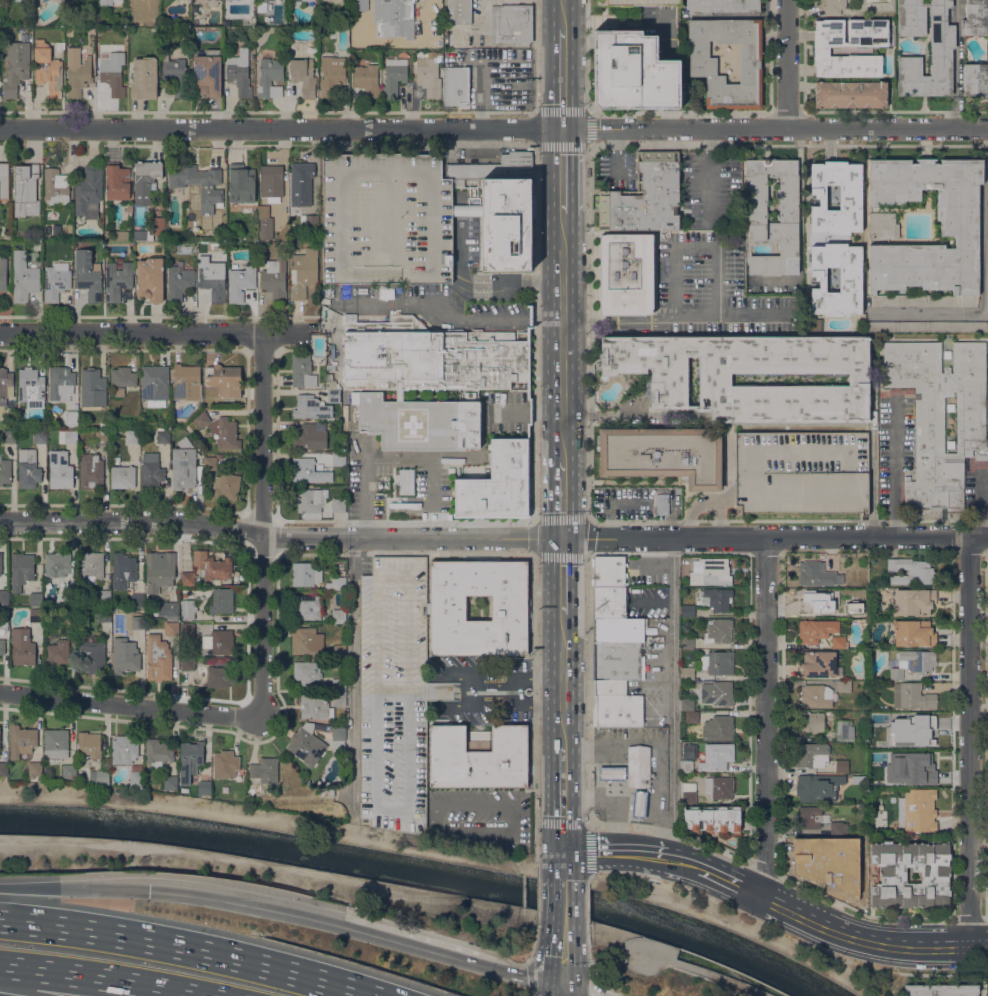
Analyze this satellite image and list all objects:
building: (11, 0)
building: (244, 1)
building: (110, 2)
building: (212, 2)
building: (296, 2)
building: (638, 2)
building: (360, 5)
building: (722, 6)
building: (834, 6)
building: (459, 12)
building: (196, 14)
road: (563, 14)
building: (394, 18)
building: (975, 18)
building: (185, 22)
building: (511, 23)
building: (942, 42)
building: (60, 47)
building: (820, 50)
road: (535, 55)
road: (587, 55)
road: (956, 62)
road: (787, 63)
building: (702, 66)
building: (16, 67)
building: (48, 69)
building: (77, 72)
building: (239, 72)
building: (208, 73)
building: (635, 73)
building: (303, 75)
building: (332, 75)
building: (112, 76)
building: (394, 76)
building: (174, 77)
building: (270, 77)
building: (428, 77)
building: (144, 78)
road: (563, 78)
building: (366, 79)
building: (975, 79)
building: (455, 85)
building: (850, 94)
road: (589, 111)
road: (775, 126)
road: (281, 127)
traffic signals: (563, 127)
building: (493, 168)
road: (562, 169)
parking lot: (616, 170)
road: (709, 172)
building: (145, 180)
building: (4, 181)
building: (117, 181)
building: (271, 181)
building: (55, 183)
building: (198, 183)
building: (241, 183)
building: (301, 183)
building: (25, 190)
parking lot: (710, 191)
building: (88, 192)
building: (850, 196)
building: (647, 199)
building: (129, 207)
building: (755, 213)
building: (52, 214)
building: (386, 219)
parking lot: (386, 219)
building: (309, 222)
building: (158, 223)
building: (264, 223)
building: (505, 224)
building: (883, 225)
building: (959, 227)
building: (121, 235)
road: (695, 245)
building: (303, 272)
building: (3, 273)
building: (626, 274)
building: (88, 275)
road: (982, 275)
building: (23, 277)
building: (211, 277)
building: (117, 278)
building: (150, 278)
building: (275, 278)
building: (851, 278)
building: (56, 280)
building: (241, 282)
building: (178, 283)
road: (485, 286)
road: (674, 314)
road: (449, 315)
building: (925, 325)
road: (588, 331)
road: (156, 332)
road: (535, 332)
road: (562, 336)
building: (429, 356)
building: (331, 366)
building: (302, 371)
building: (123, 376)
building: (669, 379)
building: (224, 380)
building: (186, 382)
building: (60, 383)
building: (5, 385)
building: (154, 385)
building: (332, 385)
building: (31, 386)
building: (92, 387)
building: (333, 395)
building: (311, 407)
building: (940, 415)
building: (71, 417)
road: (629, 418)
building: (421, 421)
helipad: (408, 427)
road: (800, 427)
building: (220, 430)
building: (101, 435)
building: (163, 435)
building: (9, 436)
building: (40, 436)
building: (70, 436)
building: (132, 436)
building: (310, 436)
building: (113, 441)
building: (664, 453)
road: (383, 457)
building: (116, 459)
building: (339, 459)
building: (209, 463)
building: (184, 464)
building: (28, 468)
road: (872, 468)
building: (60, 469)
building: (5, 470)
building: (89, 470)
building: (151, 470)
road: (727, 470)
building: (308, 471)
building: (802, 471)
building: (122, 476)
building: (405, 480)
building: (497, 483)
building: (226, 486)
road: (562, 498)
building: (308, 499)
building: (339, 504)
road: (705, 504)
building: (662, 510)
building: (677, 513)
road: (788, 518)
road: (589, 519)
road: (406, 520)
road: (259, 522)
road: (280, 536)
road: (775, 536)
traffic signals: (562, 537)
road: (672, 545)
building: (694, 555)
building: (0, 563)
building: (57, 565)
building: (212, 565)
building: (91, 566)
building: (123, 569)
building: (705, 569)
building: (21, 570)
building: (159, 570)
building: (609, 571)
building: (910, 571)
building: (305, 574)
building: (818, 574)
road: (562, 575)
building: (187, 578)
building: (73, 582)
building: (335, 582)
building: (4, 596)
building: (68, 596)
building: (103, 596)
building: (717, 598)
building: (812, 598)
building: (36, 599)
building: (137, 600)
building: (221, 600)
building: (913, 601)
building: (609, 602)
building: (187, 604)
building: (307, 606)
building: (511, 607)
building: (854, 607)
building: (168, 609)
building: (688, 610)
building: (839, 611)
building: (4, 614)
building: (36, 614)
building: (69, 614)
building: (103, 614)
building: (337, 615)
building: (137, 622)
building: (171, 628)
building: (187, 628)
building: (816, 629)
building: (618, 630)
building: (718, 631)
building: (913, 633)
building: (306, 641)
building: (221, 642)
building: (687, 642)
building: (839, 642)
building: (2, 646)
building: (22, 646)
building: (56, 650)
building: (337, 651)
building: (91, 653)
building: (158, 658)
building: (918, 660)
building: (125, 661)
building: (618, 661)
building: (718, 662)
building: (187, 663)
building: (818, 664)
building: (896, 670)
building: (307, 672)
road: (351, 673)
building: (687, 673)
building: (220, 675)
road: (503, 676)
road: (562, 679)
building: (337, 684)
building: (844, 685)
road: (587, 690)
building: (719, 693)
building: (394, 694)
building: (816, 695)
building: (913, 695)
building: (337, 699)
building: (616, 704)
building: (687, 704)
road: (127, 705)
building: (314, 705)
road: (672, 705)
road: (535, 710)
building: (873, 714)
road: (765, 715)
building: (692, 716)
building: (902, 716)
building: (813, 722)
building: (718, 728)
building: (844, 730)
building: (921, 732)
building: (337, 738)
building: (21, 740)
road: (969, 741)
road: (609, 742)
building: (306, 744)
building: (56, 745)
building: (125, 749)
building: (689, 751)
building: (158, 753)
building: (191, 753)
building: (811, 754)
building: (94, 756)
building: (717, 756)
building: (478, 757)
building: (225, 764)
building: (686, 765)
building: (841, 765)
building: (638, 766)
building: (916, 766)
building: (35, 768)
building: (4, 769)
building: (264, 770)
building: (69, 771)
building: (612, 773)
building: (136, 778)
building: (859, 779)
building: (886, 781)
building: (170, 782)
building: (719, 786)
building: (204, 787)
building: (819, 787)
building: (313, 791)
building: (688, 792)
building: (327, 793)
road: (562, 797)
building: (892, 799)
building: (639, 804)
building: (917, 810)
building: (812, 816)
building: (712, 818)
road: (270, 822)
road: (585, 825)
building: (838, 826)
road: (670, 830)
building: (823, 843)
building: (838, 848)
traffic signals: (563, 851)
road: (607, 851)
road: (675, 859)
building: (808, 862)
road: (259, 864)
road: (563, 865)
building: (850, 868)
river: (421, 871)
building: (935, 872)
road: (587, 878)
road: (729, 880)
road: (73, 888)
road: (536, 894)
road: (563, 901)
road: (586, 906)
road: (830, 928)
road: (356, 930)
road: (533, 940)
road: (937, 946)
road: (978, 946)
road: (189, 949)
road: (792, 950)
road: (562, 954)
road: (588, 956)
road: (666, 958)
road: (529, 975)
road: (98, 979)
traffic signals: (562, 987)
road: (594, 988)
building: (987, 988)
building: (940, 990)
road: (562, 991)
road: (574, 991)
road: (18, 992)
road: (531, 993)

